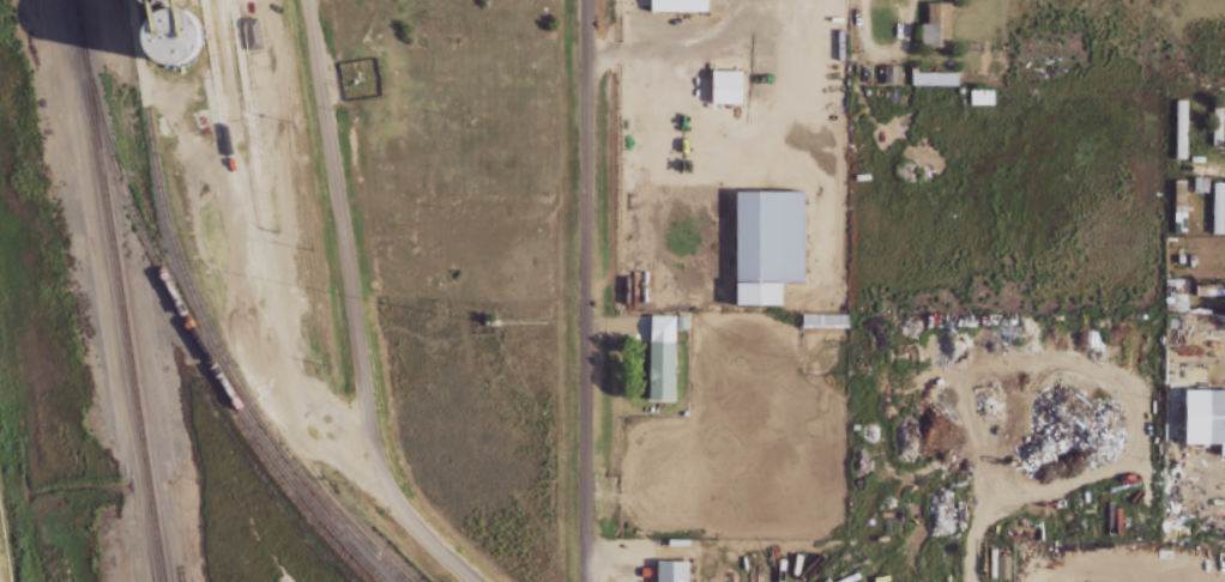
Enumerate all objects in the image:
building: (680, 5)
building: (937, 25)
building: (253, 32)
building: (169, 37)
building: (892, 73)
building: (935, 77)
building: (726, 85)
building: (1200, 117)
building: (1182, 120)
building: (1201, 182)
building: (1181, 199)
building: (1218, 206)
building: (768, 243)
railway: (116, 291)
road: (589, 291)
road: (354, 308)
railway: (200, 320)
railway: (188, 331)
building: (662, 356)
building: (672, 571)

